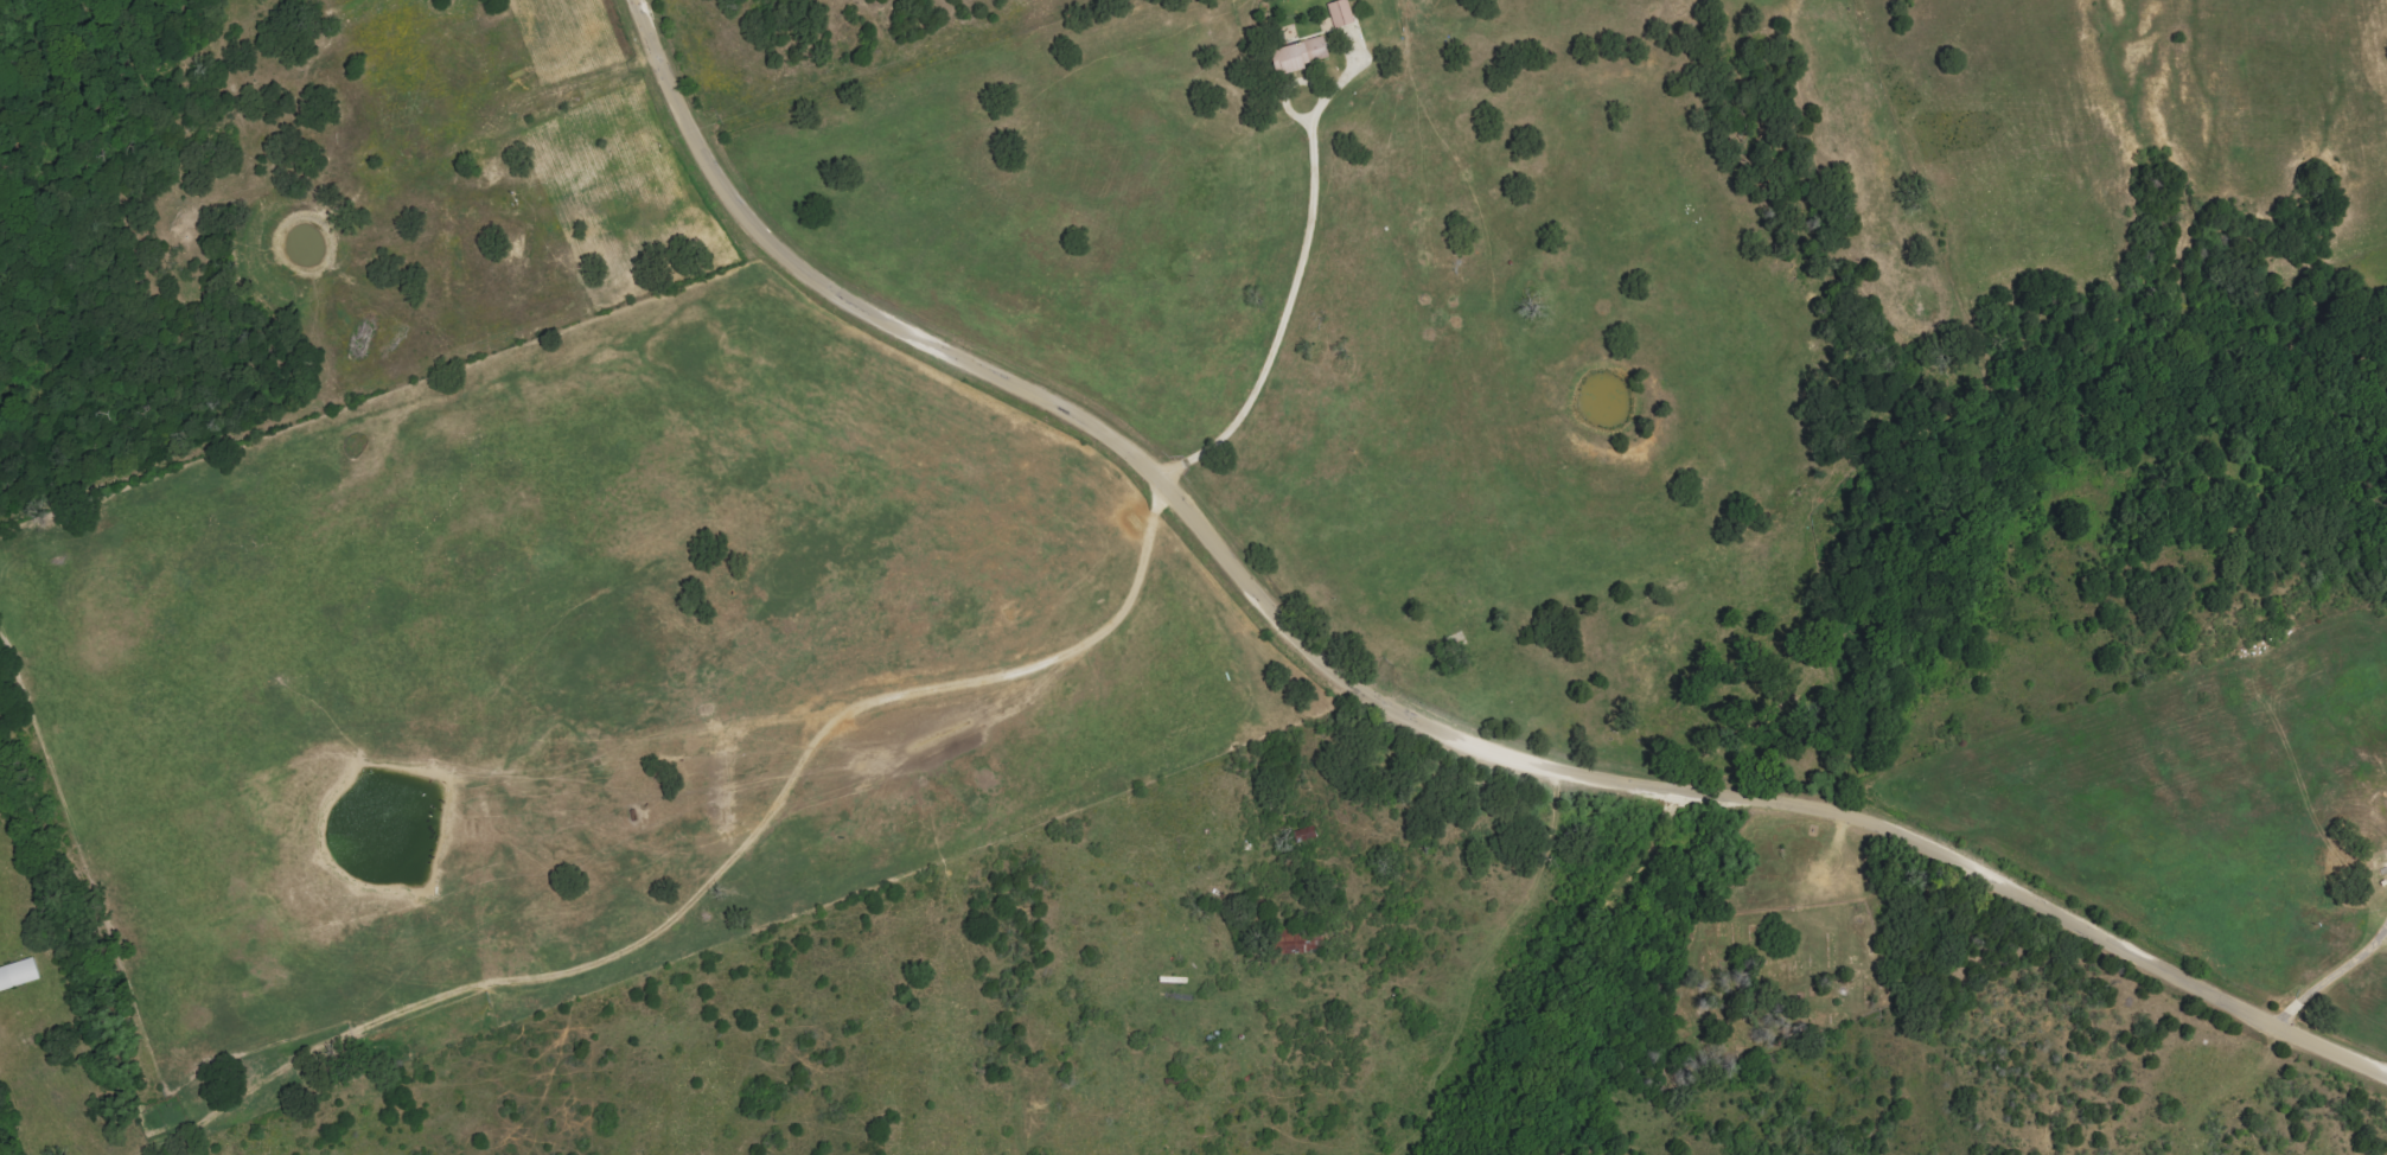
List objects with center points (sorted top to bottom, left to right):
building: (1342, 13)
building: (1302, 55)
road: (1288, 310)
road: (1391, 709)
road: (1189, 717)
park: (1779, 947)
road: (2327, 982)

